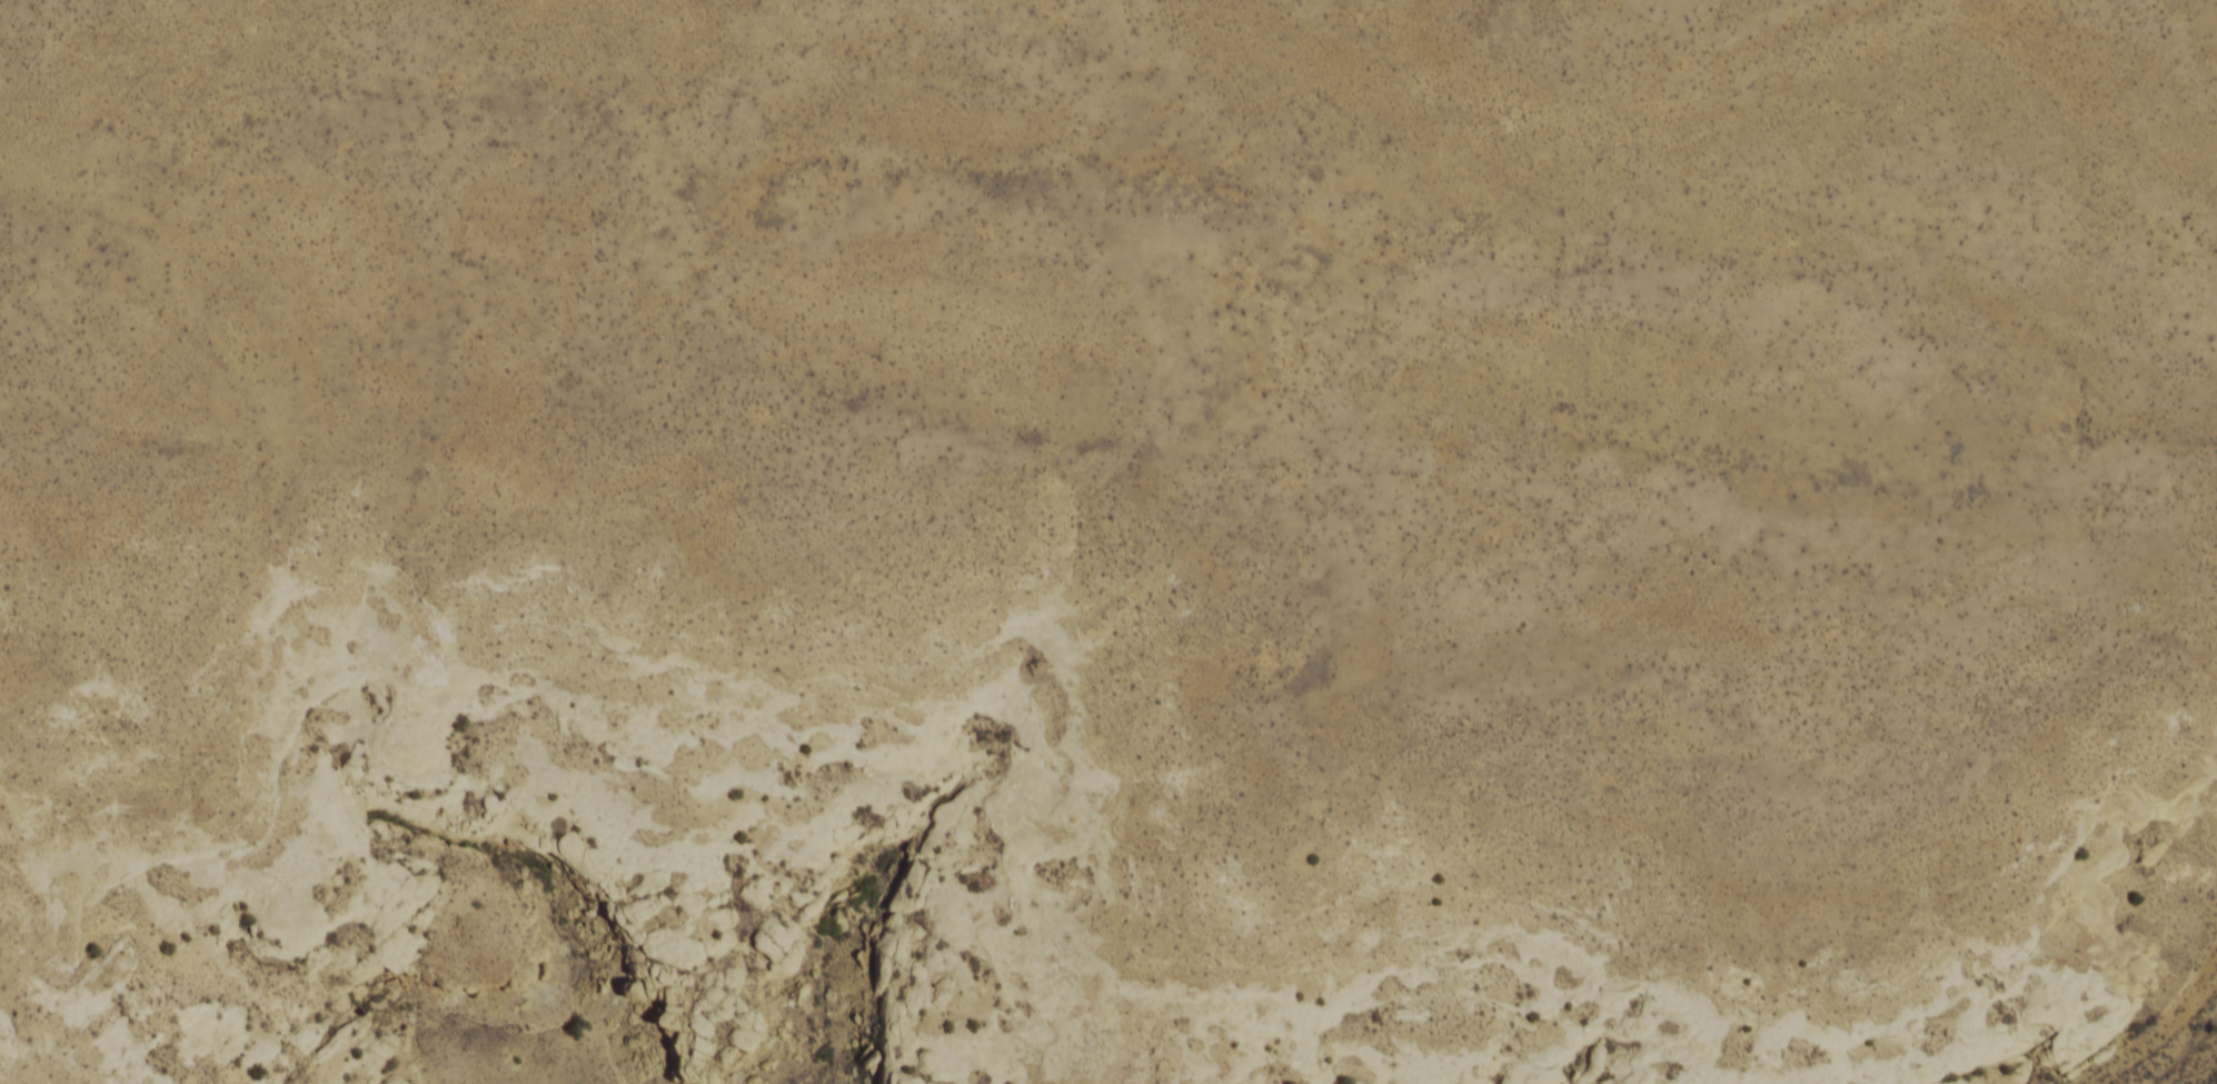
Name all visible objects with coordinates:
road: (2168, 1032)

